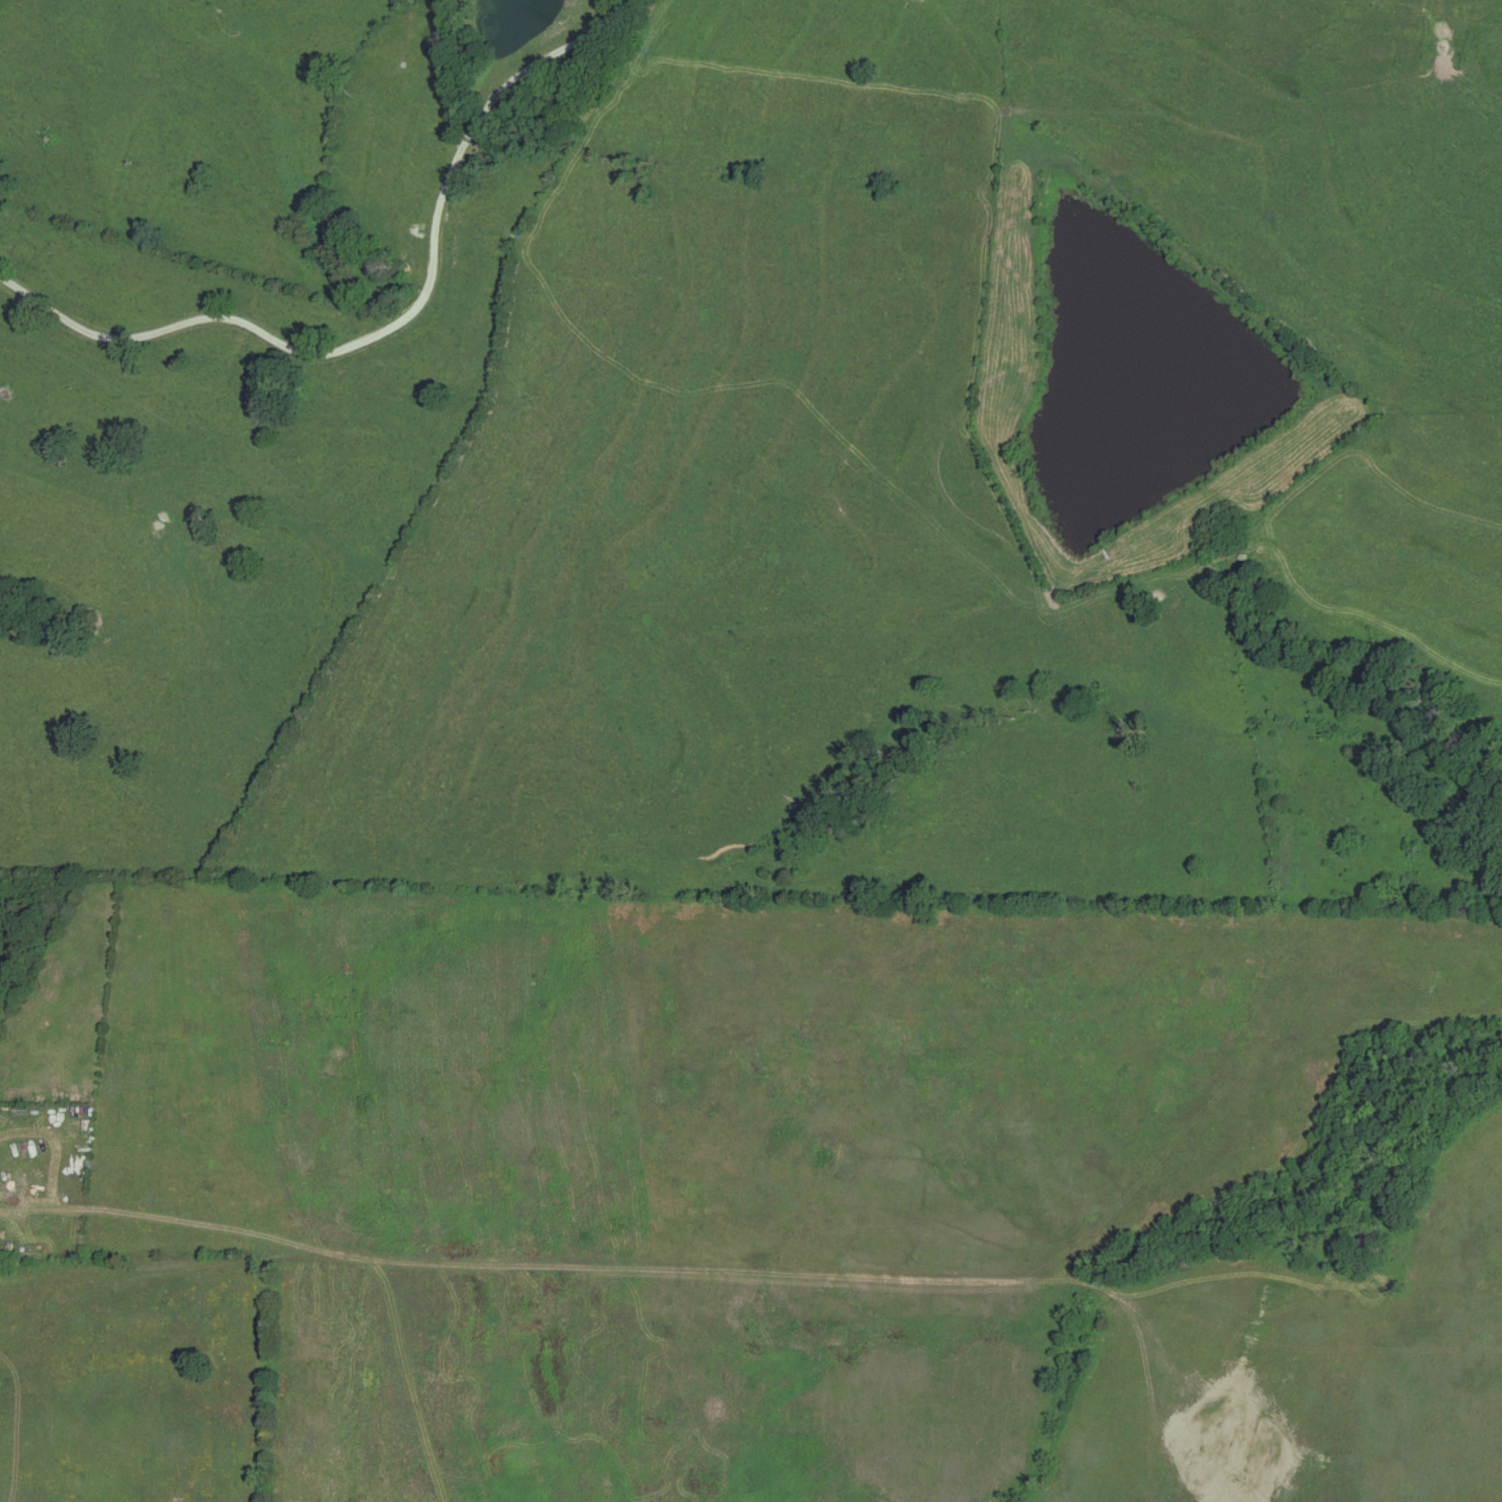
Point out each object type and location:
road: (389, 325)

